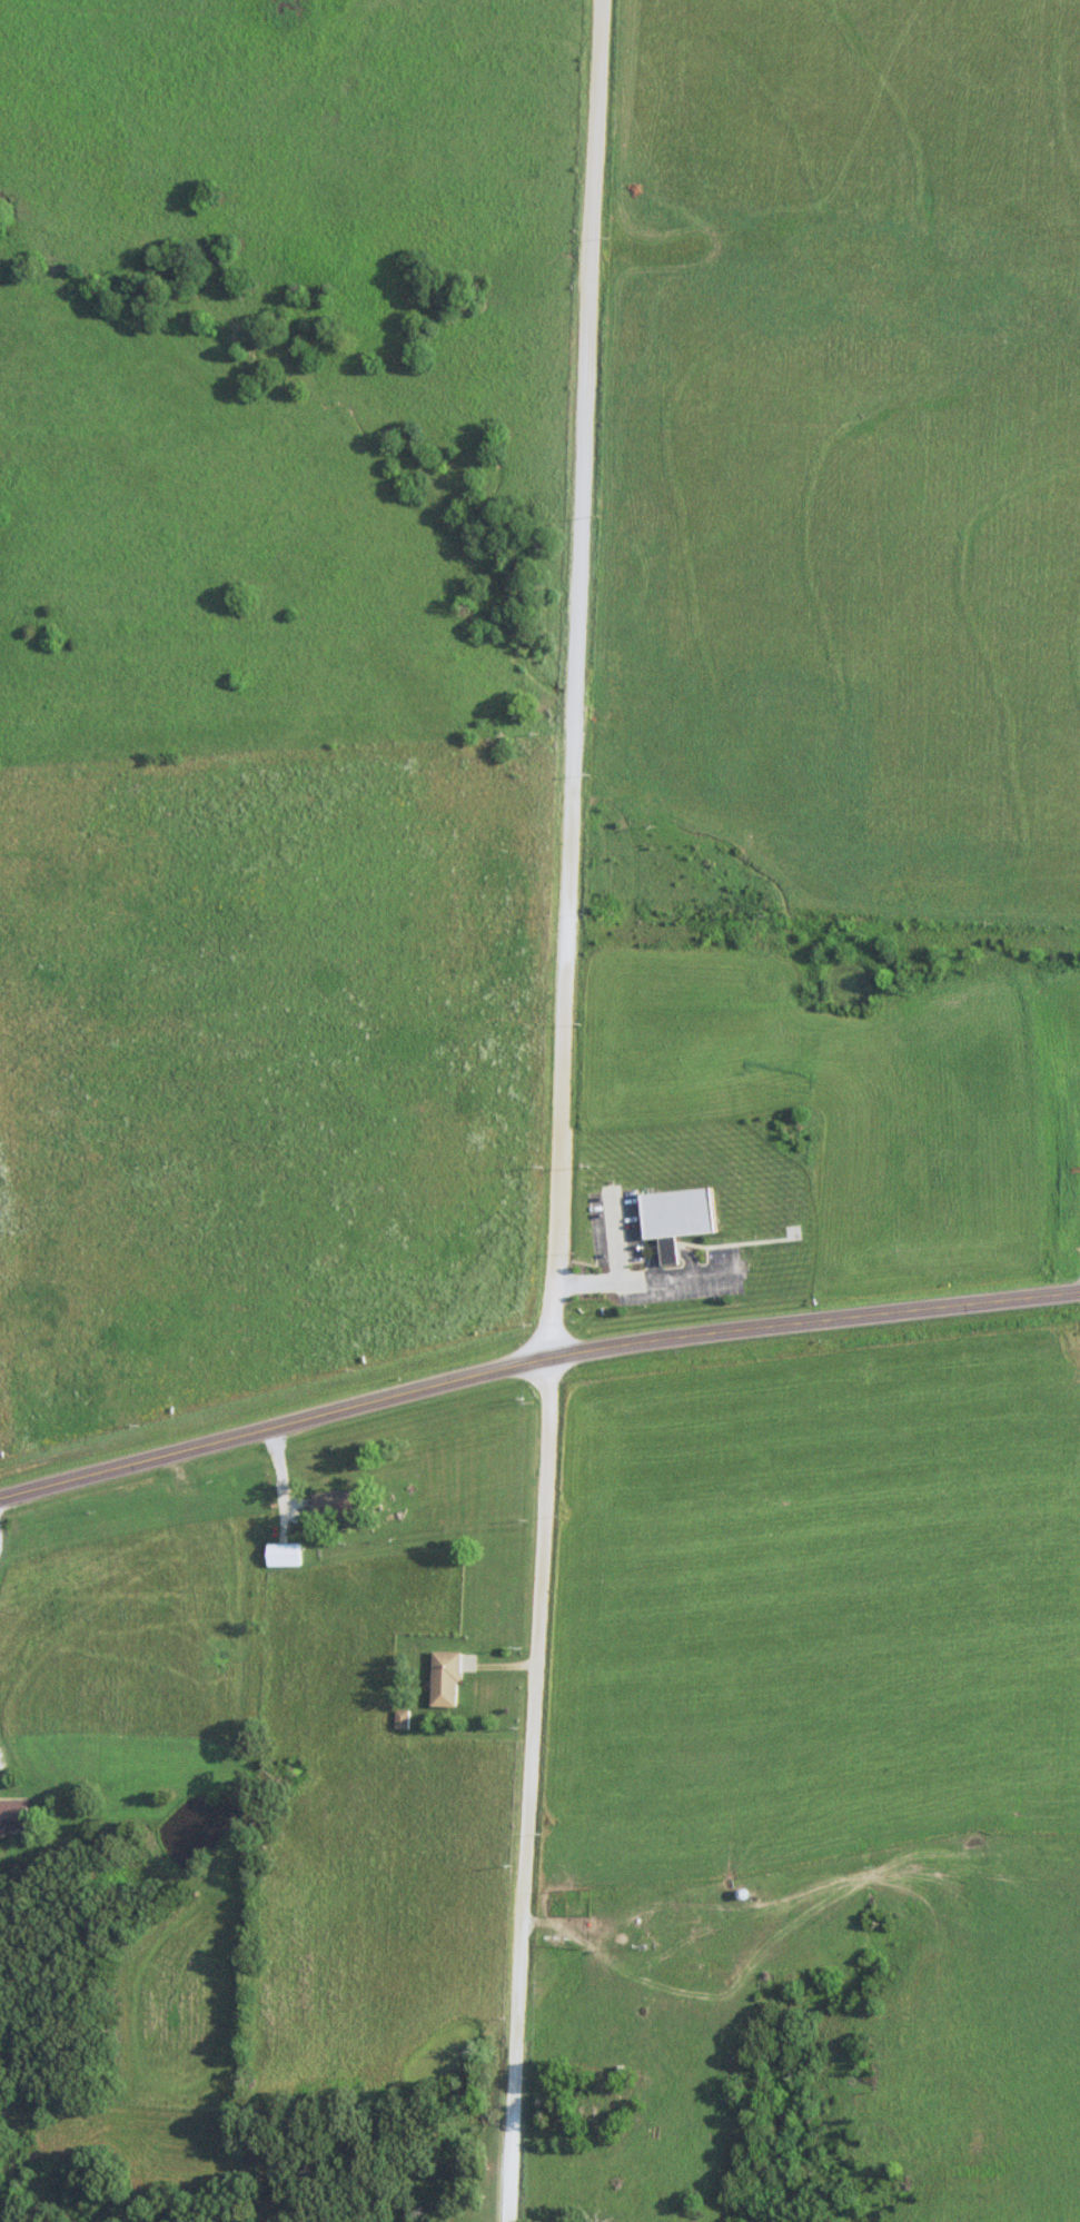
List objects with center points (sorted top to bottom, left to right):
building: (1076, 135)
building: (938, 304)
building: (864, 583)
building: (889, 647)
road: (576, 676)
building: (674, 1217)
road: (939, 1305)
road: (395, 1392)
building: (283, 1554)
building: (444, 1679)
road: (528, 1787)
building: (12, 1816)

